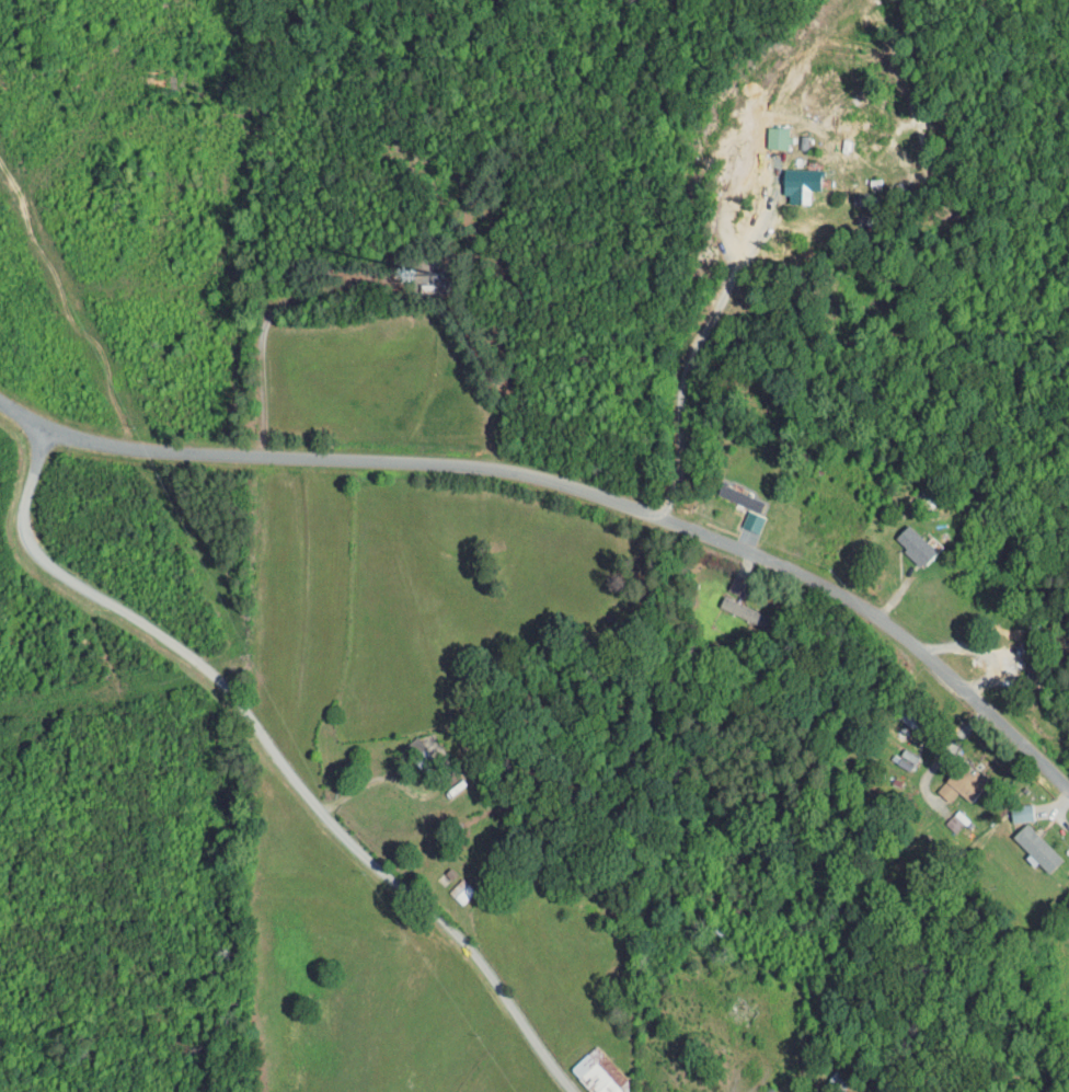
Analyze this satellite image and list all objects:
building: (765, 133)
building: (786, 179)
road: (727, 290)
road: (574, 488)
building: (727, 491)
building: (900, 539)
building: (727, 604)
road: (946, 750)
road: (274, 757)
building: (949, 778)
road: (377, 779)
building: (1008, 807)
building: (1024, 842)
building: (448, 885)
building: (587, 1070)
road: (746, 1082)

